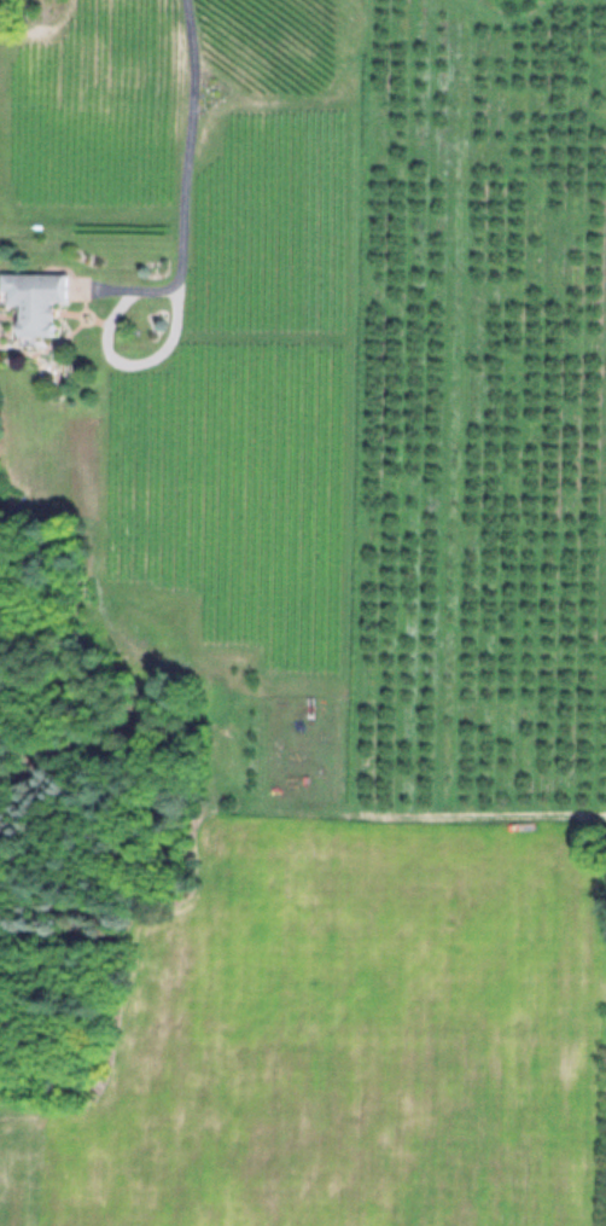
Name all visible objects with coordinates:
road: (186, 192)
building: (31, 300)

